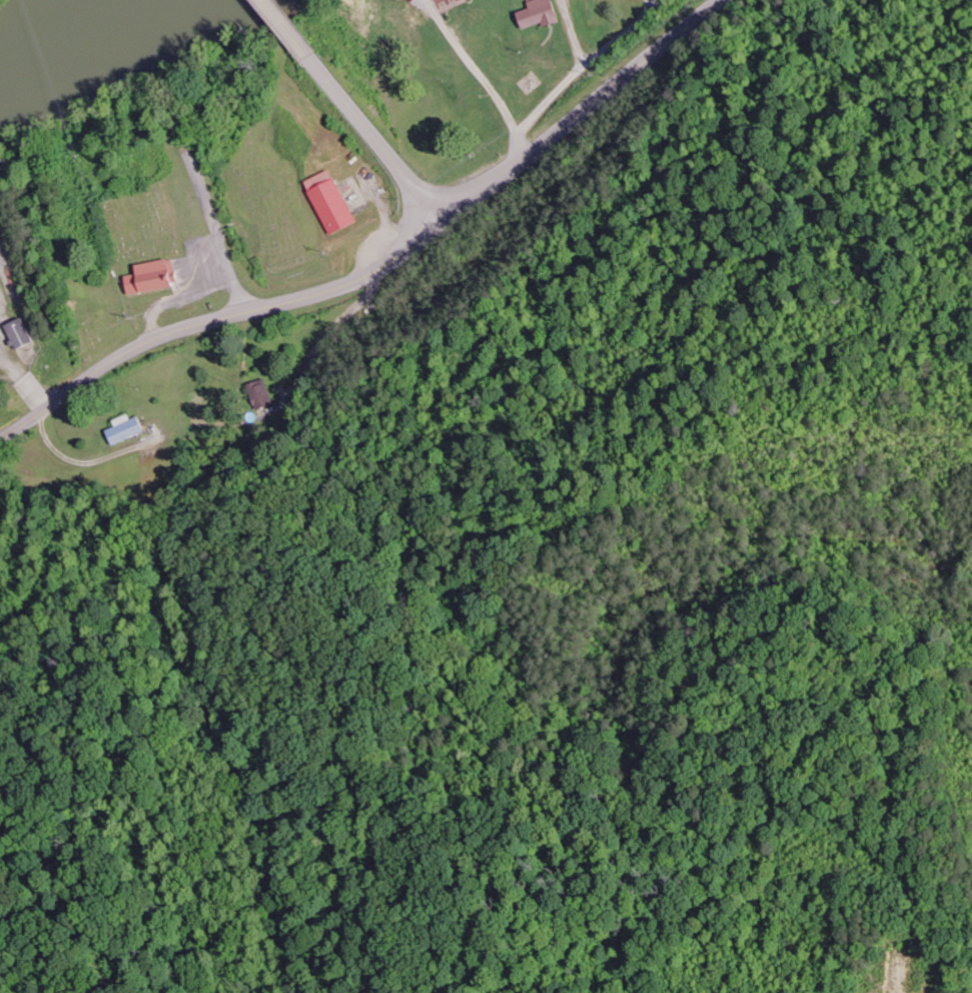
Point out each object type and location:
building: (442, 1)
building: (459, 2)
road: (640, 10)
building: (542, 15)
river: (50, 29)
road: (286, 29)
road: (565, 38)
road: (467, 67)
road: (562, 89)
road: (586, 110)
road: (377, 141)
building: (333, 204)
building: (156, 279)
road: (219, 321)
building: (21, 335)
building: (264, 396)
building: (130, 431)

